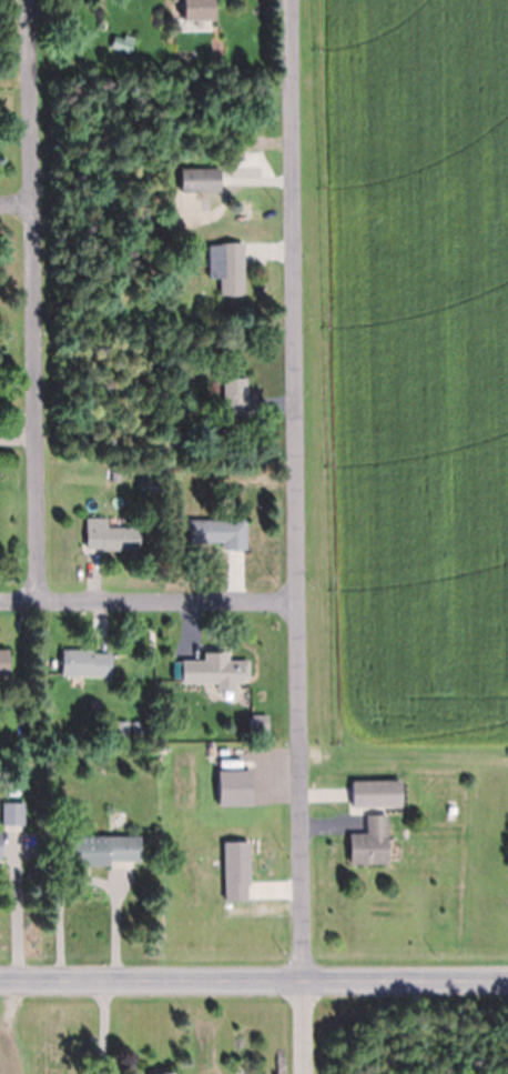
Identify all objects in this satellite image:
building: (195, 10)
building: (182, 54)
building: (200, 181)
road: (14, 207)
building: (226, 265)
road: (31, 300)
crop: (413, 374)
building: (231, 390)
building: (115, 474)
road: (292, 490)
building: (216, 531)
building: (109, 535)
road: (146, 601)
building: (3, 661)
building: (84, 663)
building: (215, 672)
building: (121, 729)
building: (377, 795)
building: (12, 812)
building: (369, 841)
building: (0, 847)
building: (101, 849)
building: (236, 873)
road: (253, 980)
road: (306, 1027)
building: (167, 1073)

